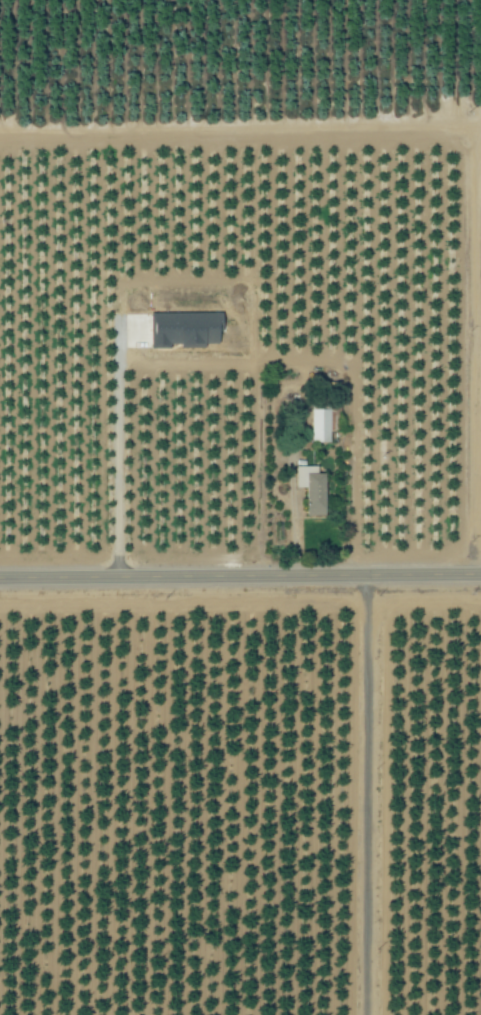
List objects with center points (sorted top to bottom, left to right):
road: (240, 128)
building: (321, 426)
road: (115, 464)
building: (313, 489)
road: (293, 518)
road: (240, 576)
road: (368, 795)

